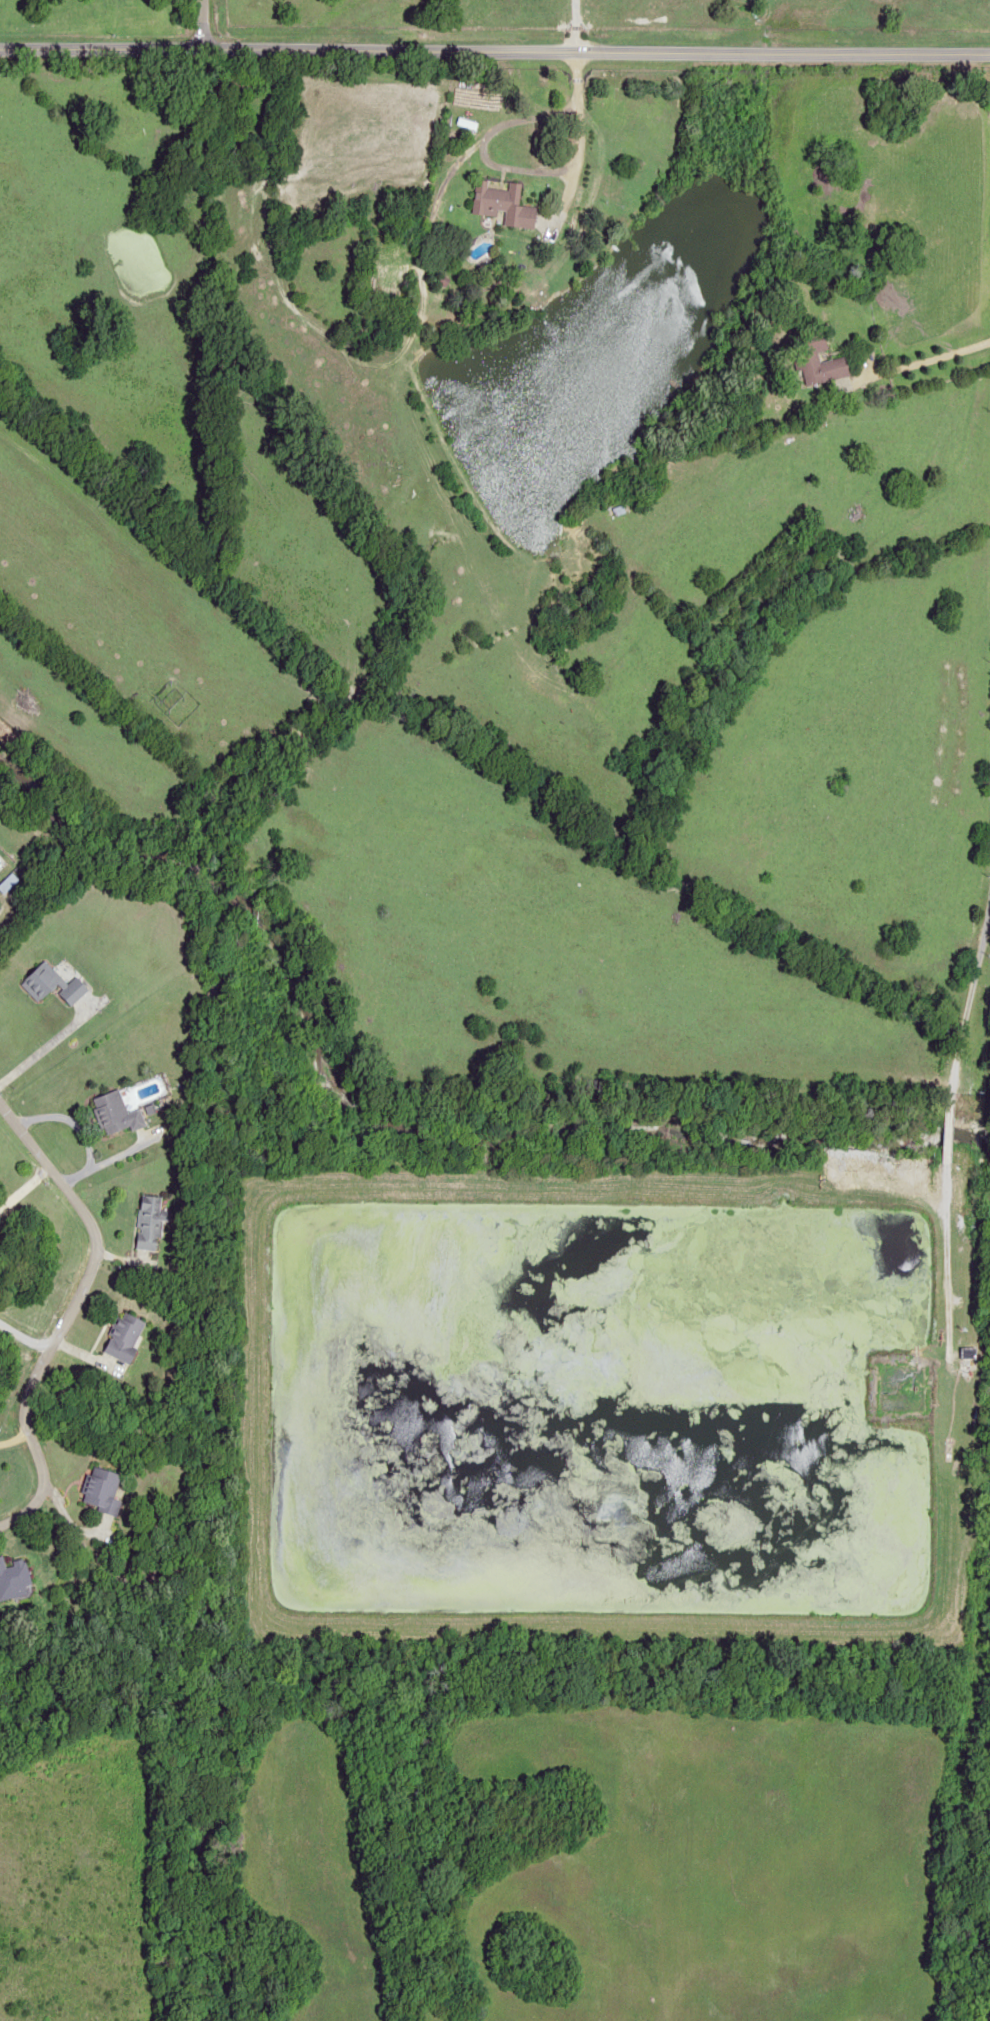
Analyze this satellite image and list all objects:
road: (198, 24)
road: (494, 48)
building: (246, 87)
road: (578, 111)
building: (230, 137)
building: (502, 204)
building: (818, 357)
building: (51, 985)
road: (50, 1043)
road: (945, 1109)
building: (114, 1113)
road: (97, 1163)
building: (148, 1222)
road: (64, 1315)
building: (123, 1336)
building: (967, 1352)
building: (636, 1389)
building: (100, 1489)
building: (13, 1579)
building: (150, 1582)

